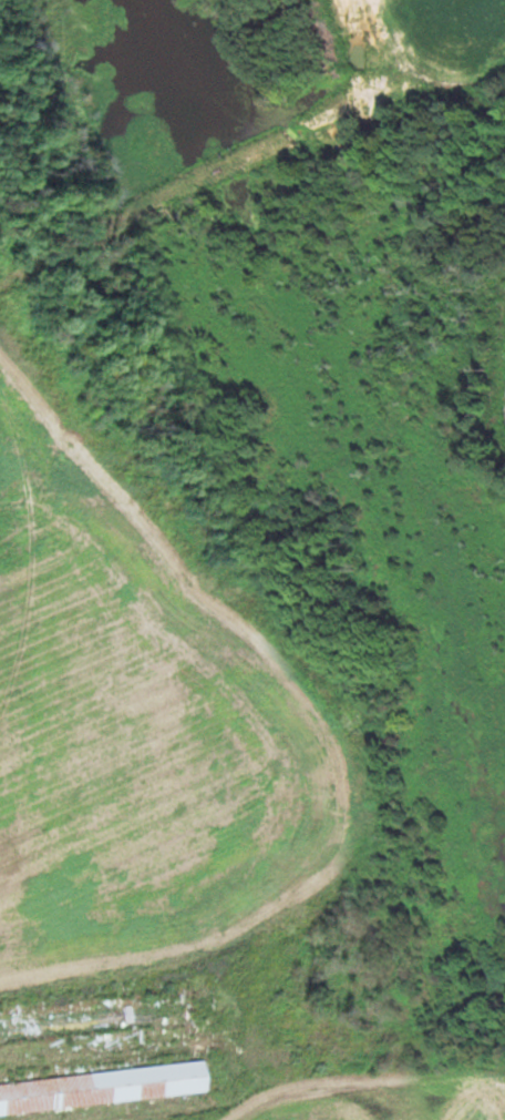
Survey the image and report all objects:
building: (92, 1020)
building: (102, 1088)

